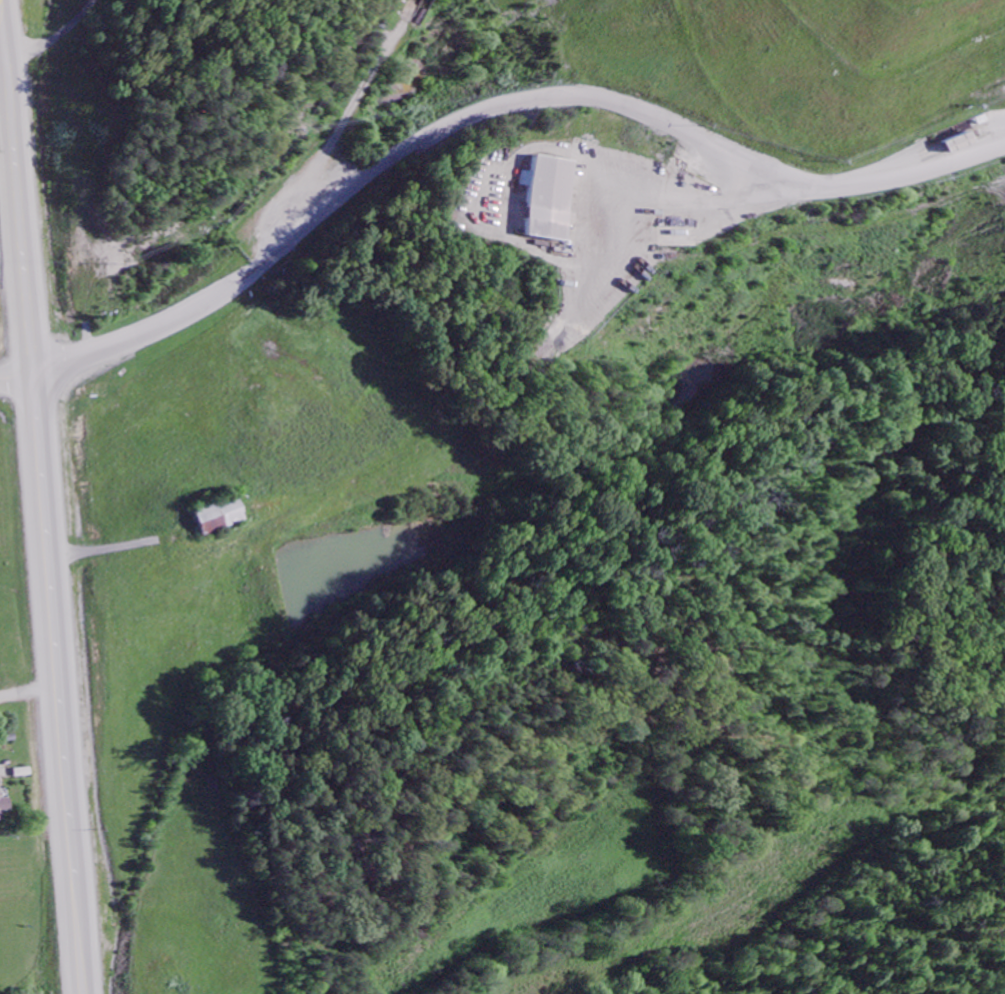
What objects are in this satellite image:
road: (56, 41)
road: (0, 43)
road: (609, 101)
landfill: (726, 161)
building: (552, 198)
road: (674, 202)
road: (19, 203)
road: (148, 335)
road: (19, 375)
building: (220, 518)
road: (60, 682)
building: (4, 807)

